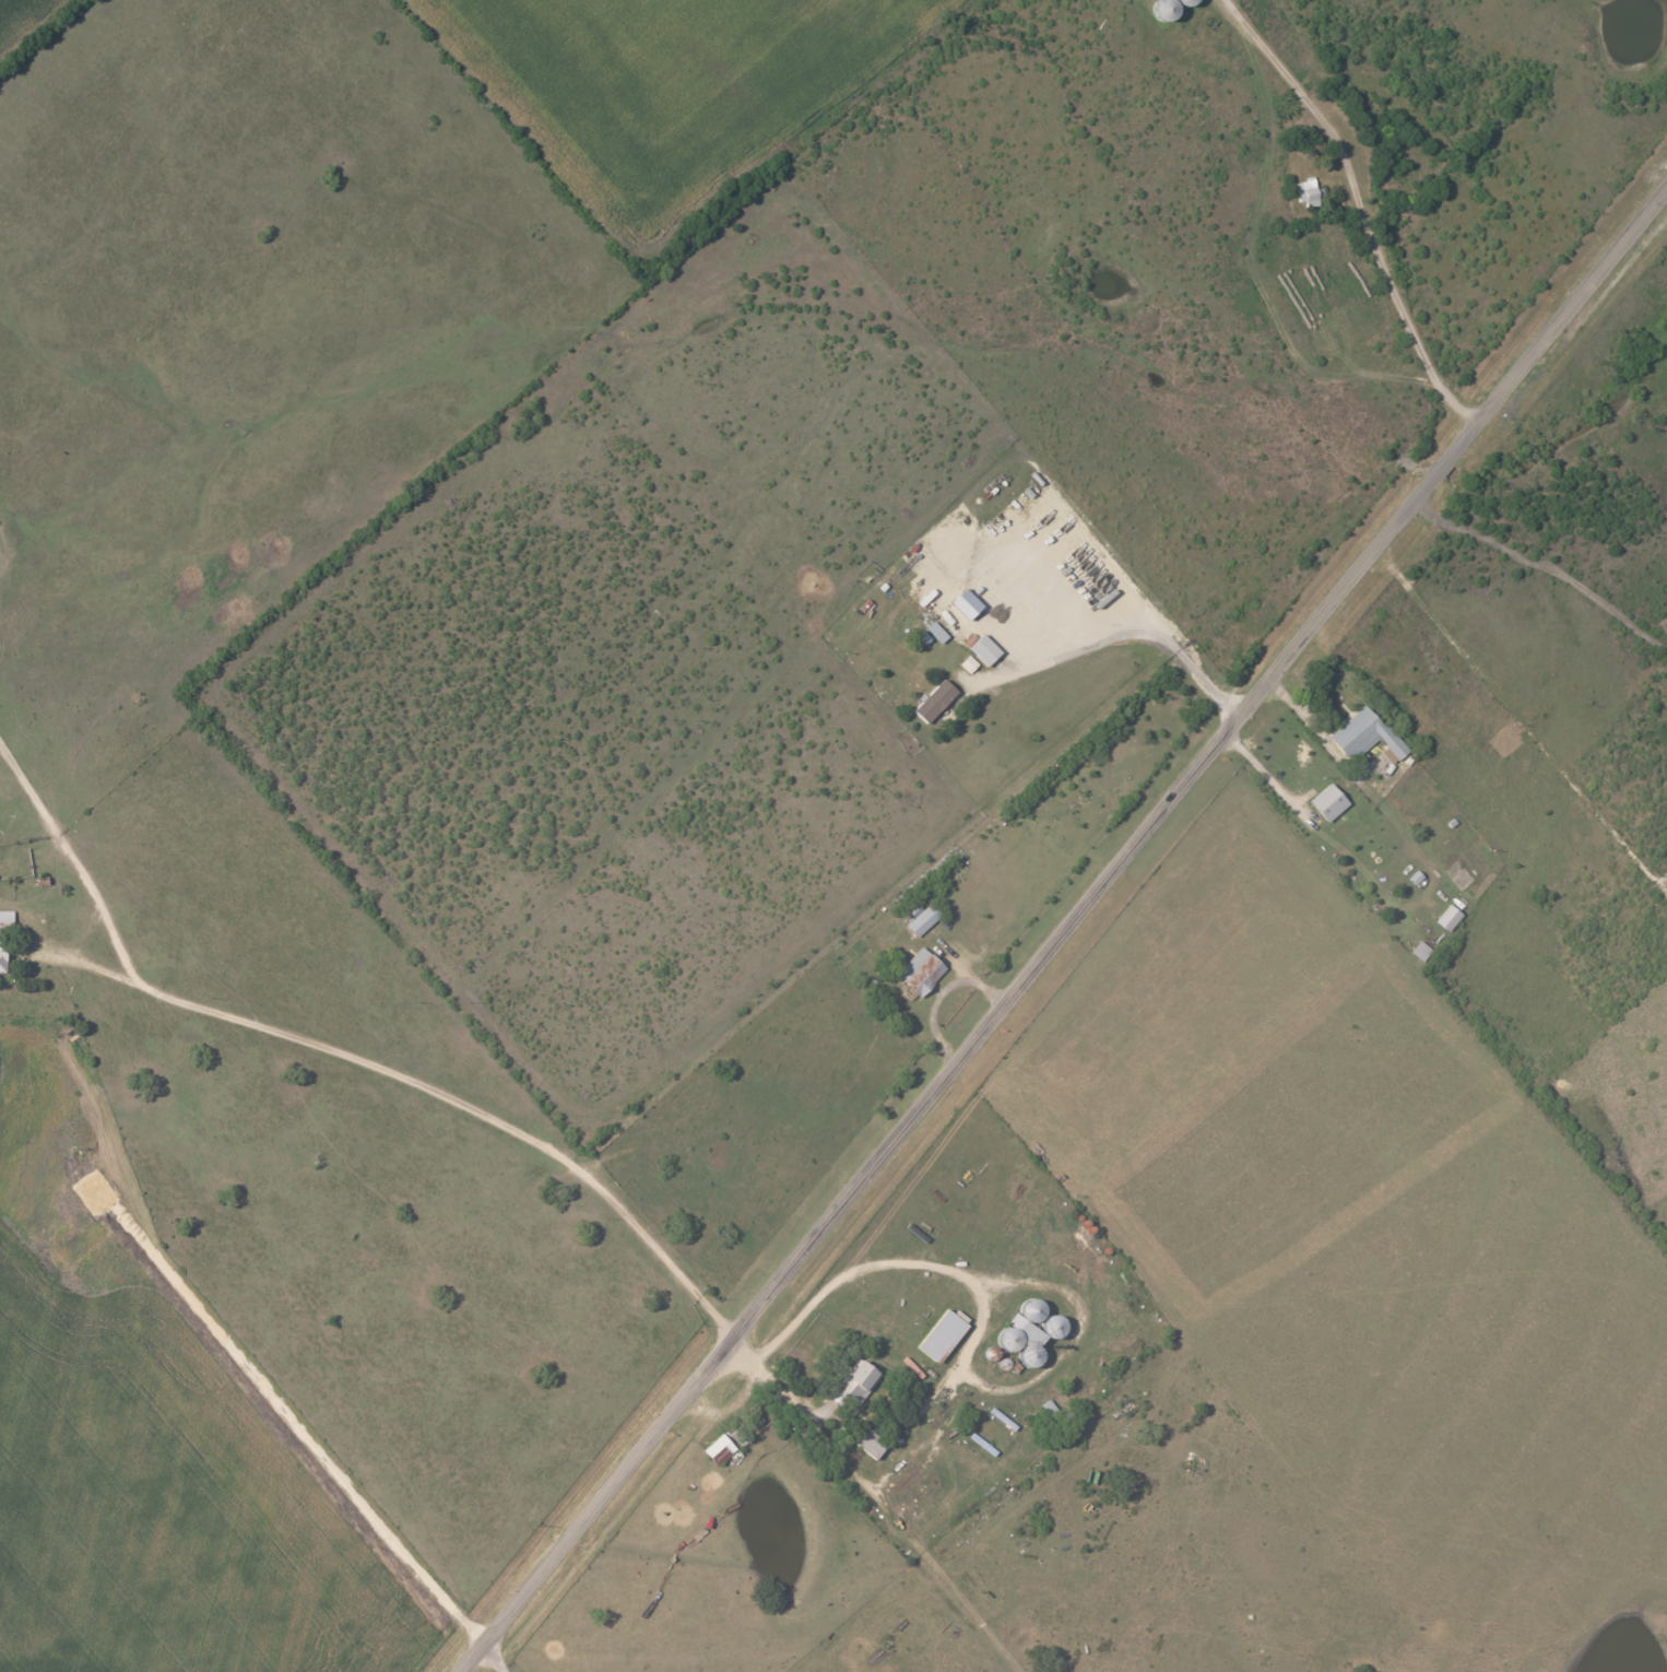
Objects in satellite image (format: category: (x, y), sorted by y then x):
building: (1305, 192)
road: (1356, 211)
road: (1546, 569)
building: (967, 603)
building: (937, 632)
building: (926, 639)
road: (1115, 643)
building: (984, 650)
building: (969, 663)
building: (936, 700)
road: (1515, 725)
building: (1365, 735)
road: (1260, 768)
building: (1328, 802)
road: (73, 866)
building: (7, 917)
building: (922, 918)
building: (1449, 918)
road: (1063, 932)
building: (1421, 951)
building: (3, 957)
building: (921, 972)
road: (425, 1085)
building: (942, 1335)
road: (965, 1361)
building: (859, 1380)
building: (740, 1435)
building: (870, 1443)
building: (720, 1449)
road: (488, 1661)

